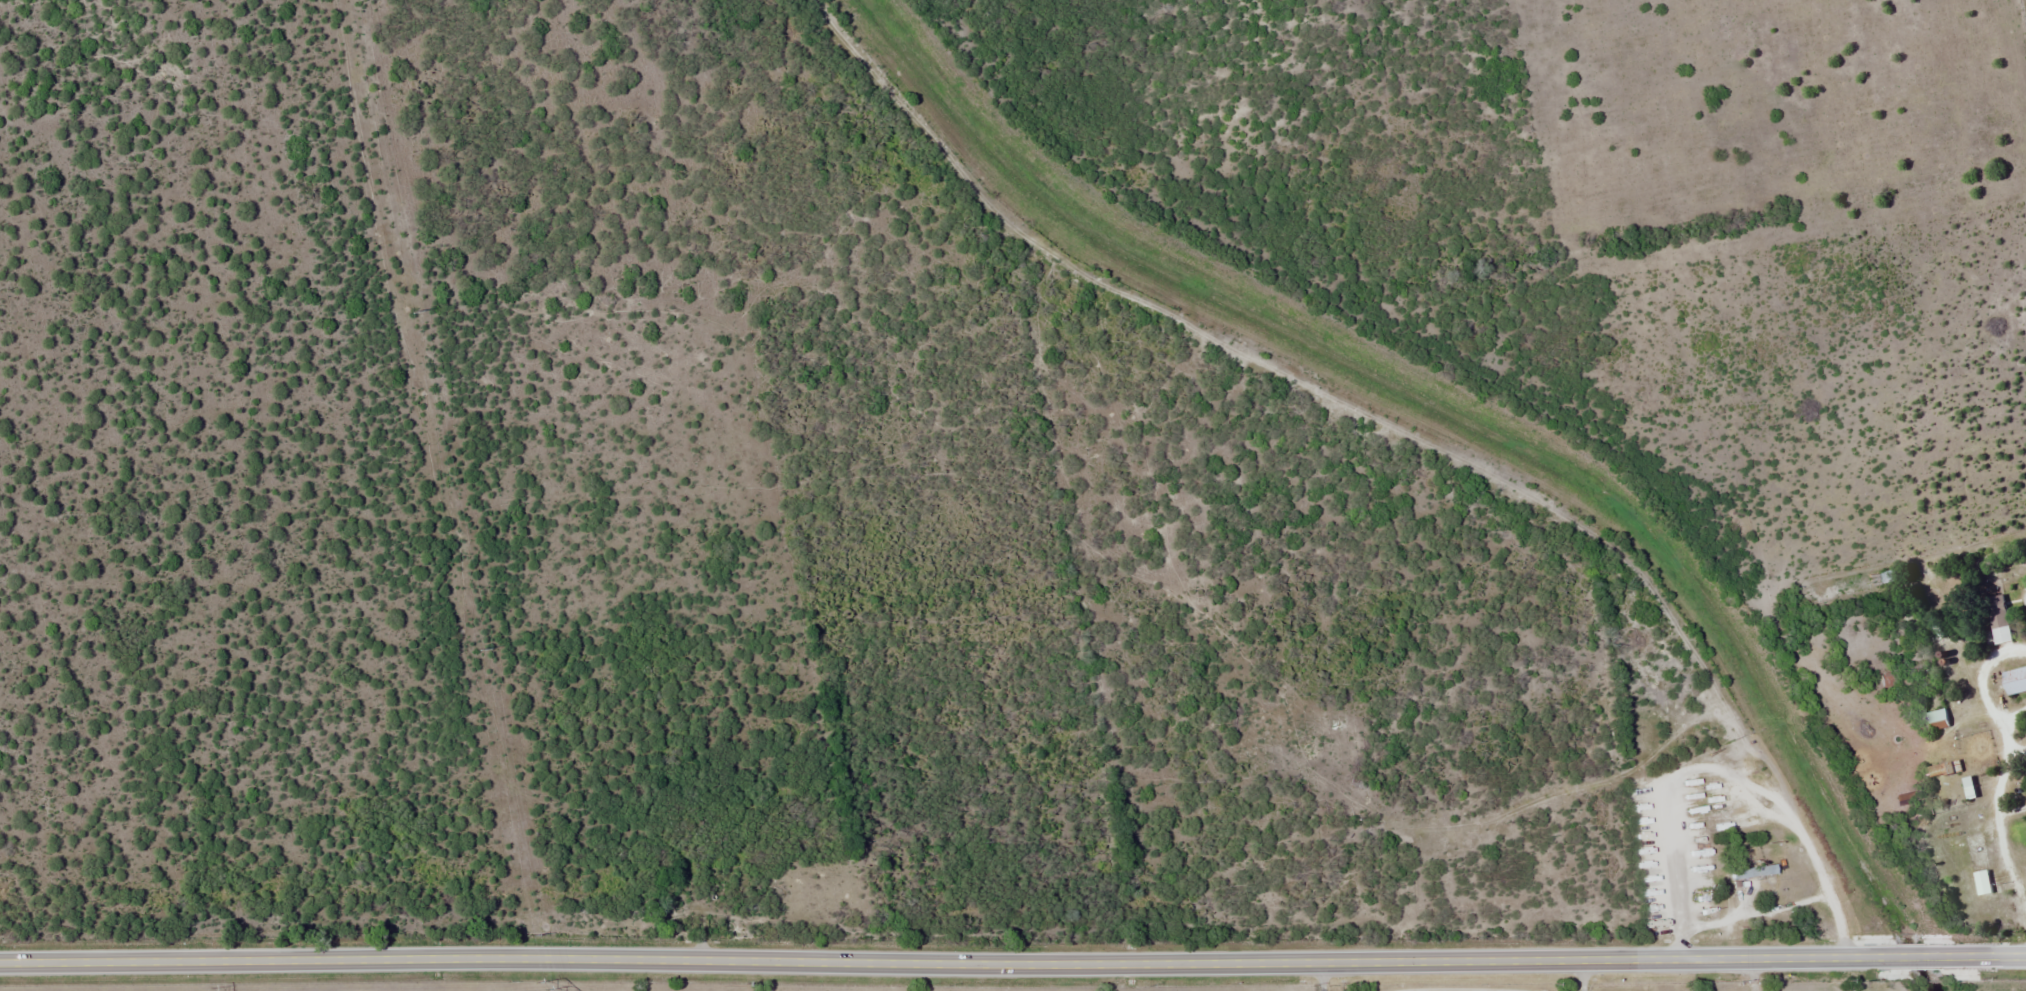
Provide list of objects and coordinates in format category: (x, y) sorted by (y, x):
power tower: (412, 314)
building: (2001, 618)
power tower: (478, 649)
building: (2017, 680)
building: (1938, 719)
building: (1971, 787)
building: (1743, 873)
road: (1013, 960)
power tower: (207, 990)

